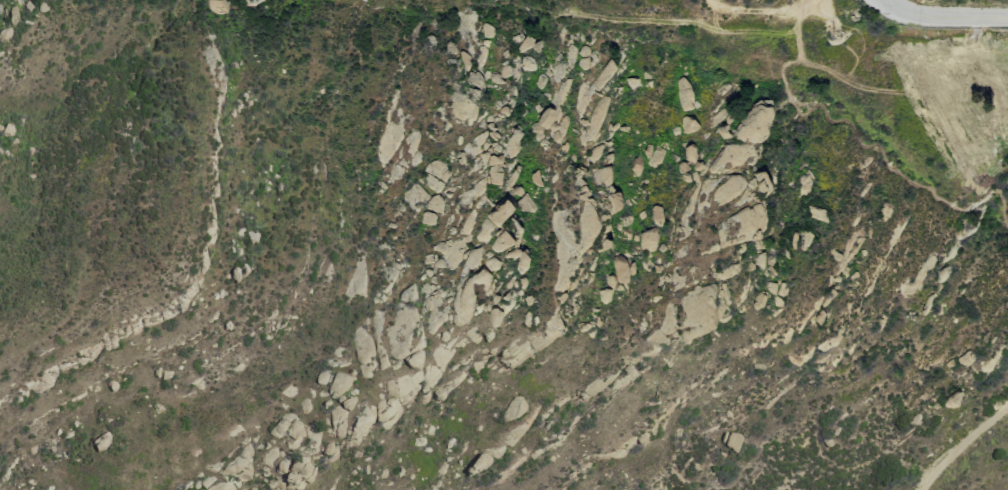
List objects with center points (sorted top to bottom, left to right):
building: (214, 5)
road: (945, 16)
building: (523, 42)
building: (211, 59)
building: (526, 62)
building: (602, 73)
building: (683, 92)
building: (687, 123)
building: (548, 125)
building: (634, 166)
building: (494, 170)
building: (602, 175)
building: (758, 182)
building: (433, 202)
building: (526, 204)
building: (655, 212)
building: (426, 217)
building: (508, 245)
building: (620, 267)
building: (603, 293)
building: (493, 312)
building: (338, 384)
building: (732, 442)
road: (960, 443)
building: (291, 476)
building: (429, 488)

